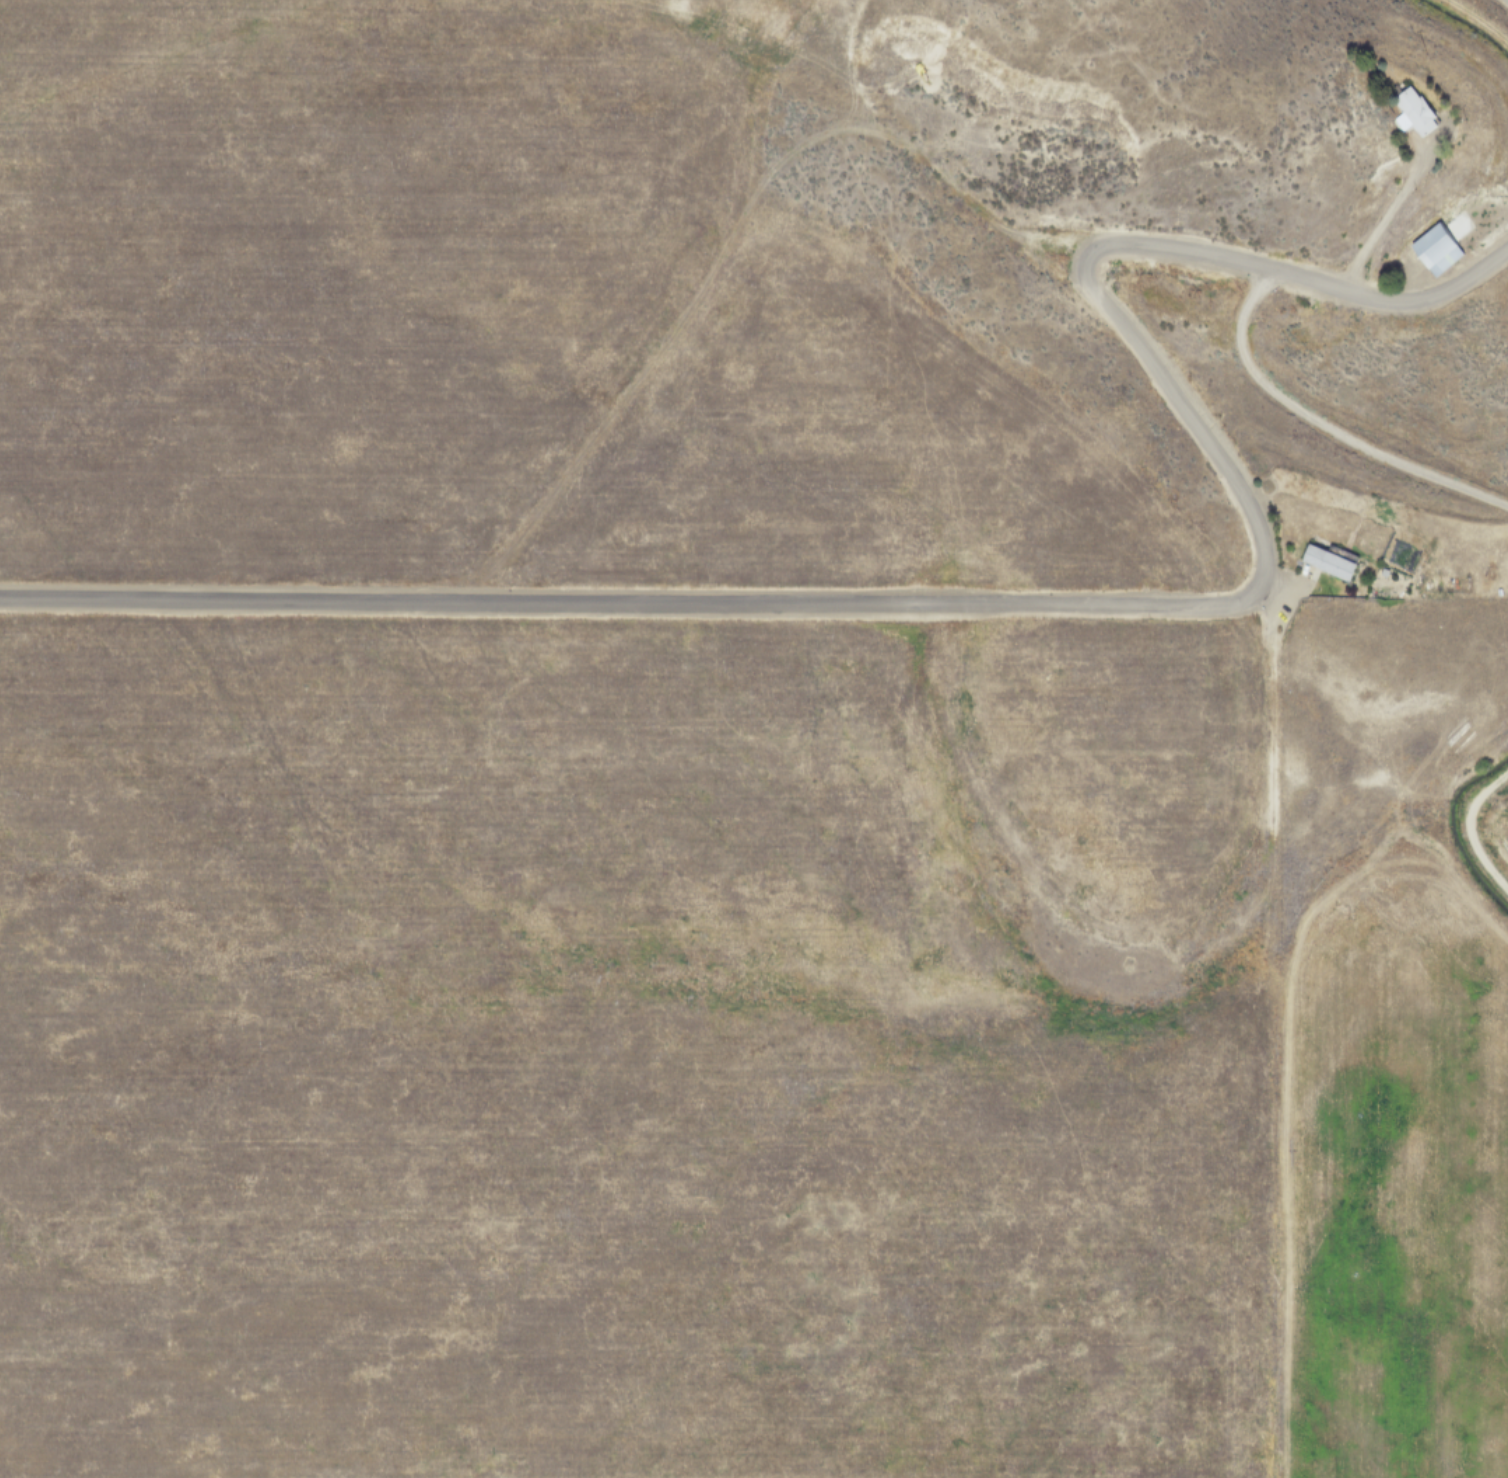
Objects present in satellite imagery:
building: (1410, 110)
road: (1387, 210)
building: (1434, 247)
road: (1321, 424)
building: (1326, 560)
road: (1279, 579)
road: (1049, 601)
road: (1468, 827)

